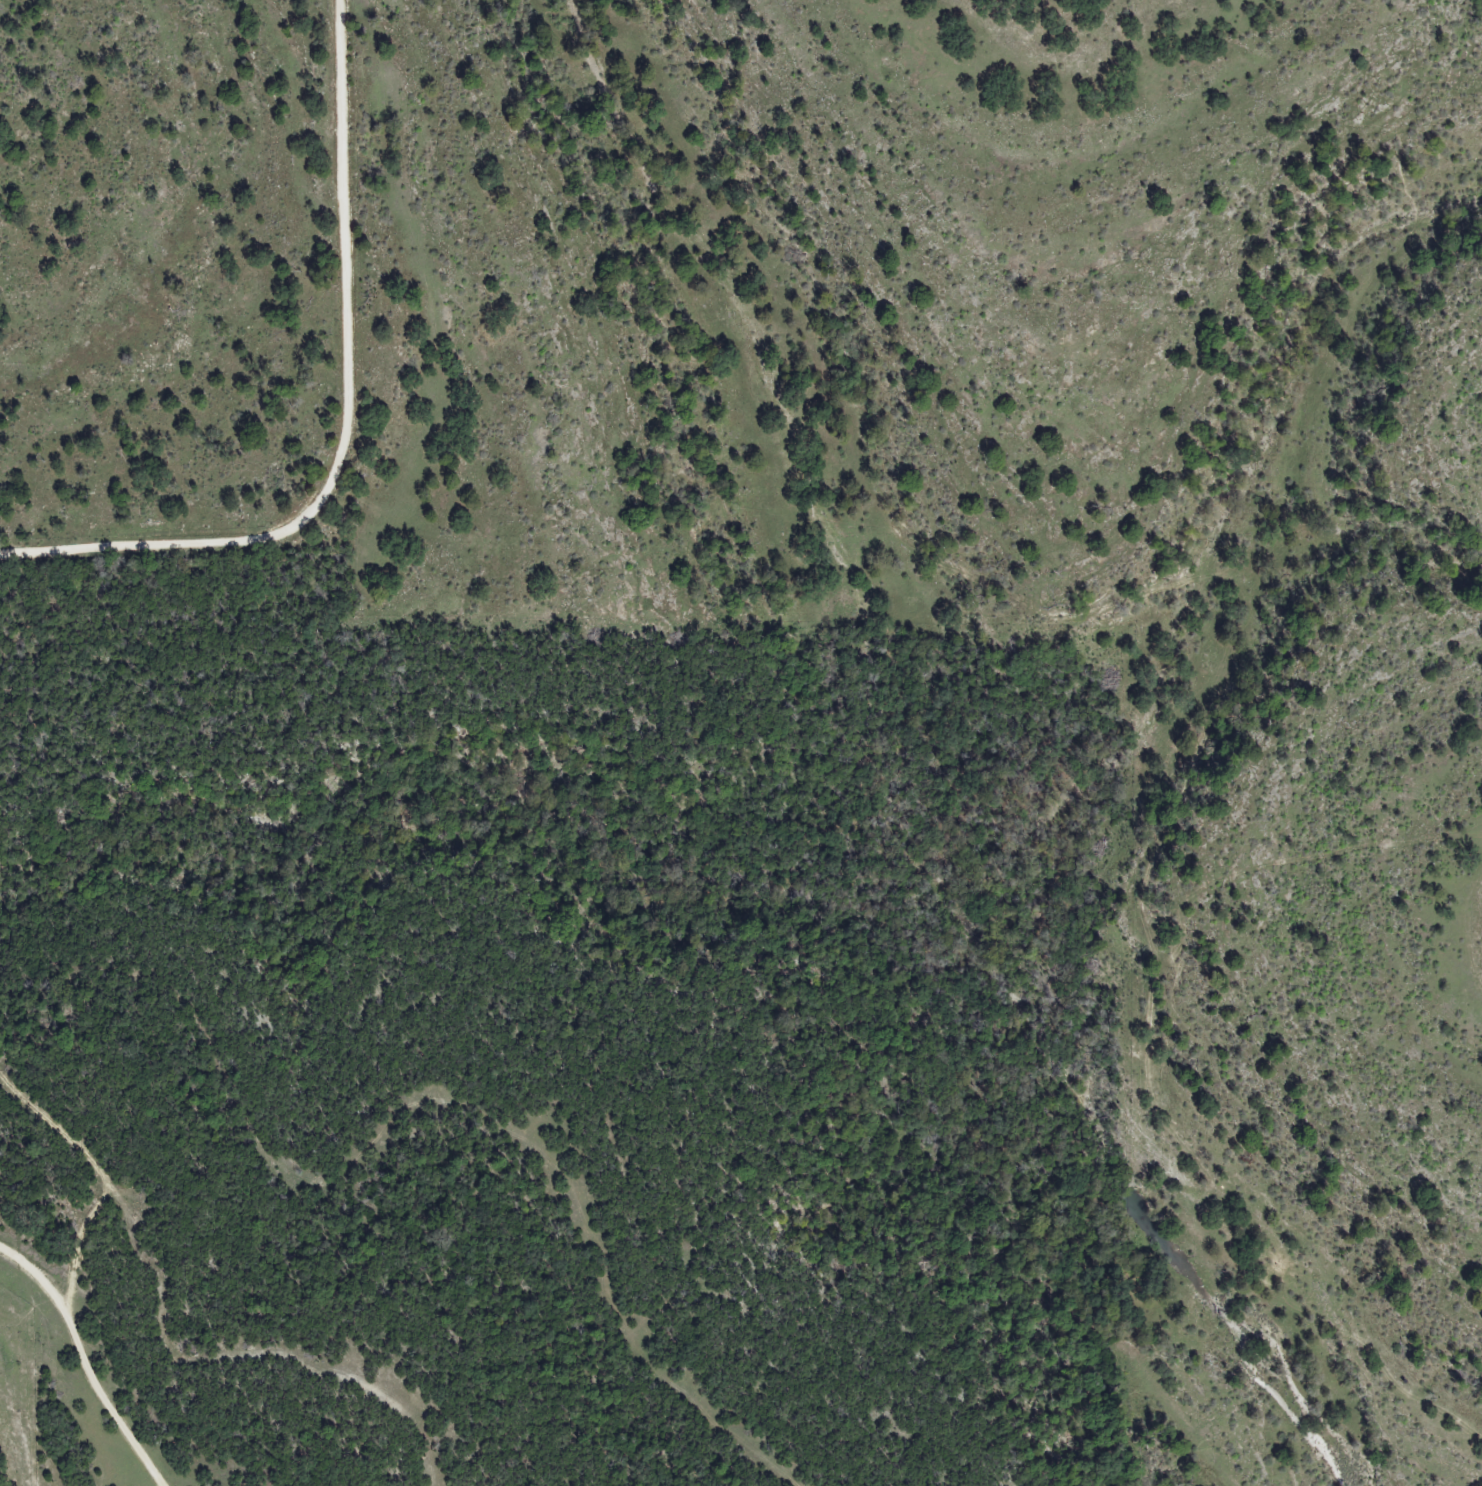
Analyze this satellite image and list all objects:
road: (347, 419)

